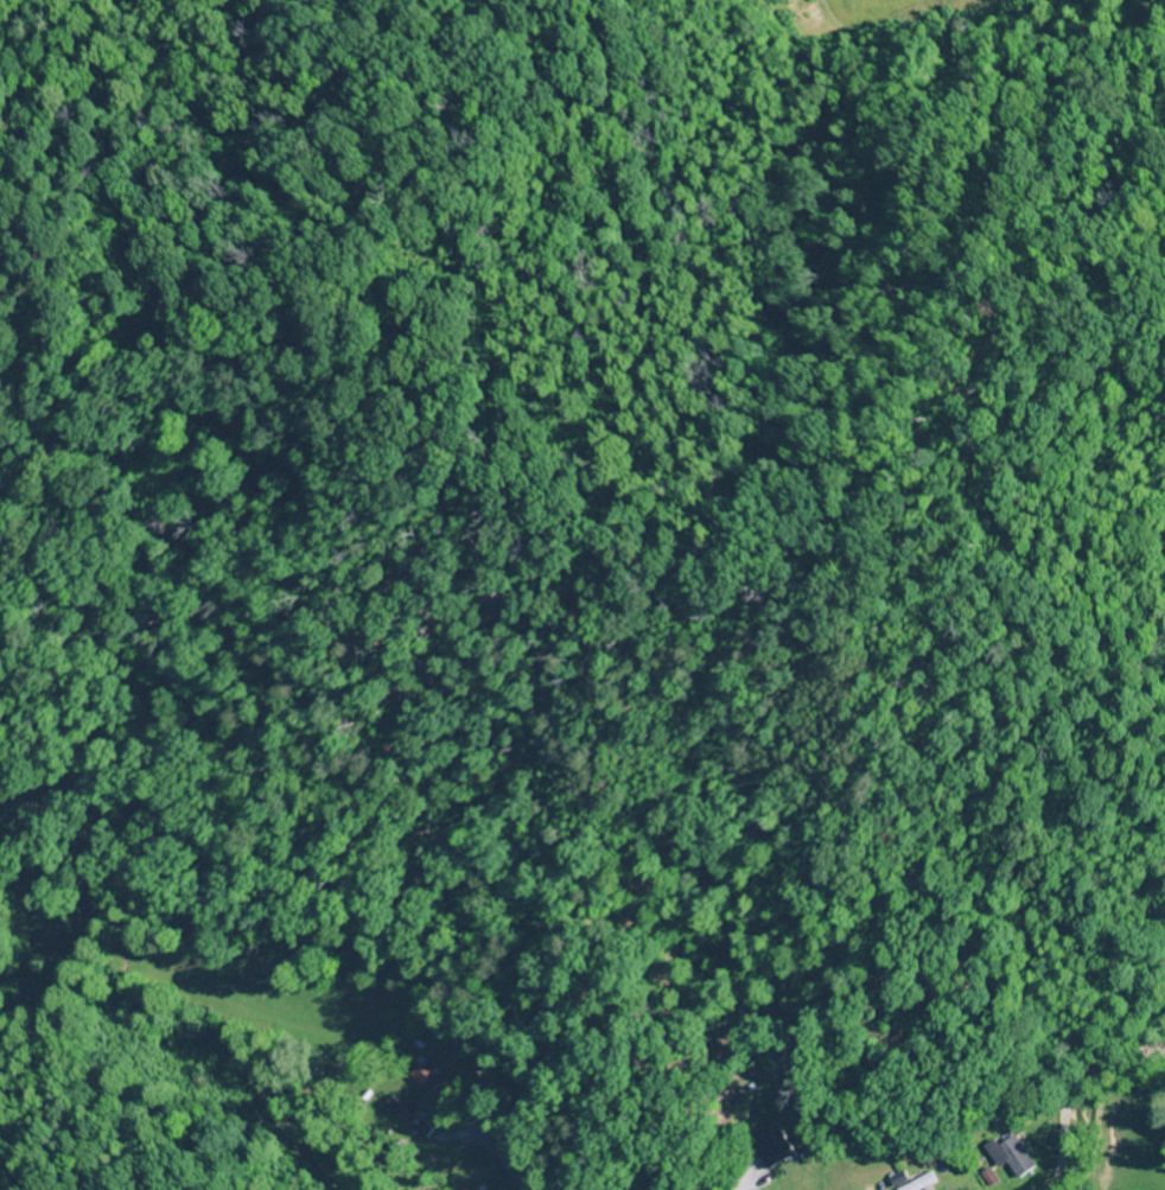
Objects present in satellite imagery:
building: (426, 1078)
road: (1095, 1113)
building: (779, 1147)
building: (1018, 1154)
building: (991, 1178)
building: (917, 1181)

